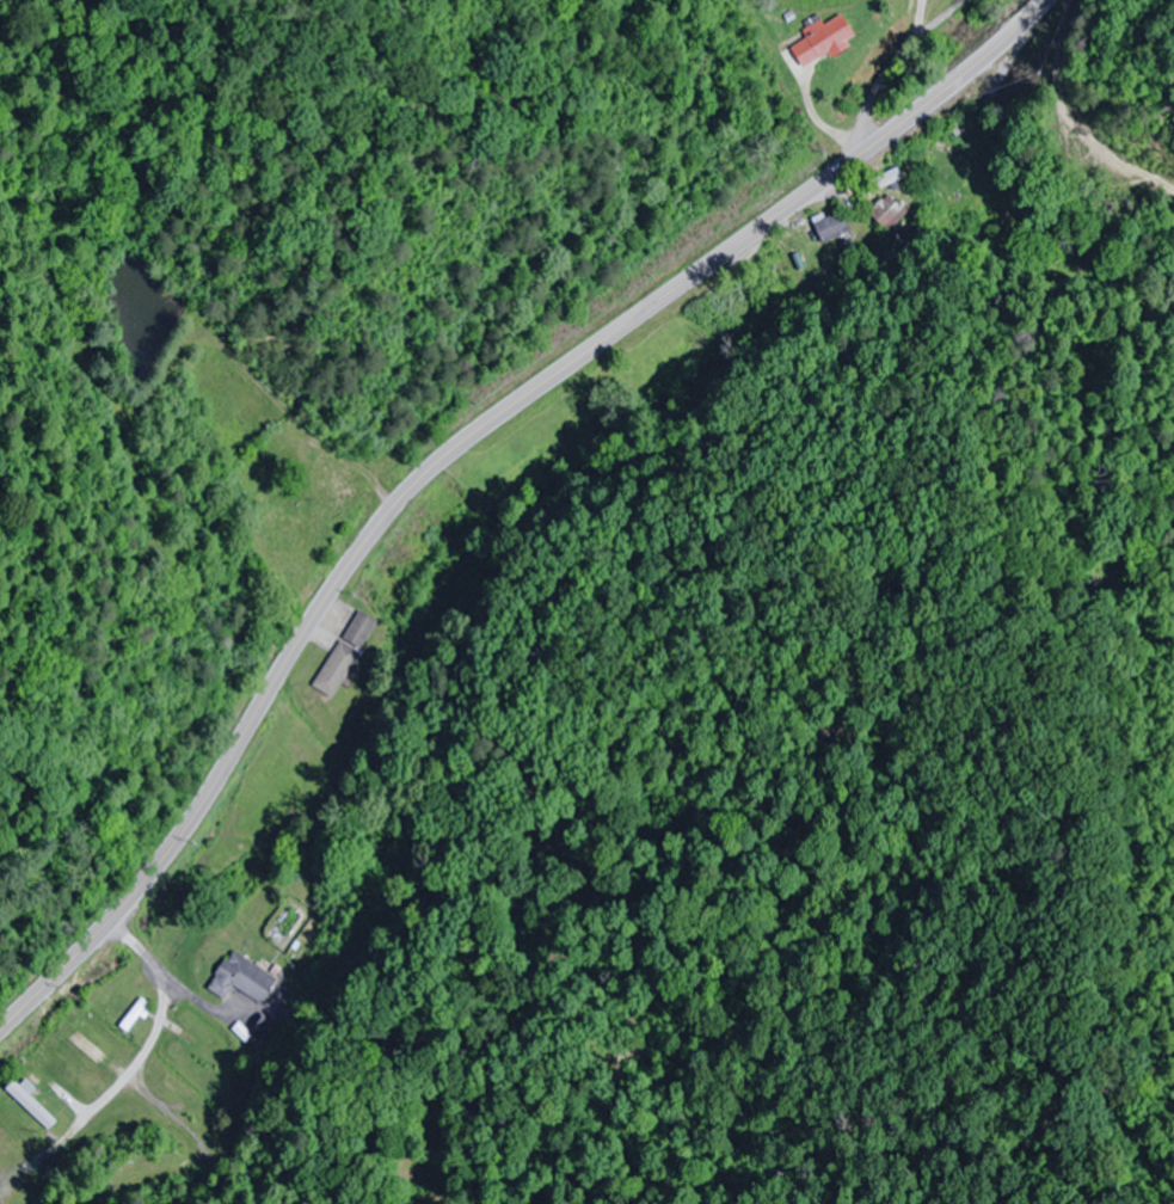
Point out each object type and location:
building: (825, 39)
road: (883, 74)
building: (889, 211)
building: (834, 227)
road: (459, 455)
building: (331, 480)
building: (346, 655)
building: (242, 979)
building: (136, 1016)
building: (93, 1038)
building: (32, 1104)

